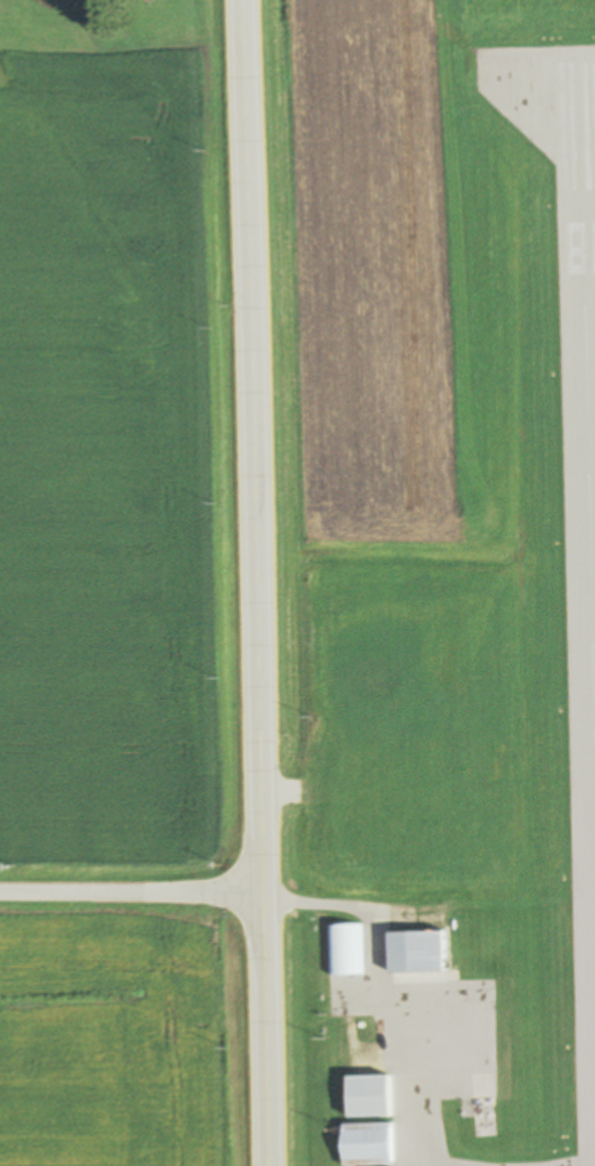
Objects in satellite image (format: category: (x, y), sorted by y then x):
airport taxiway: (501, 87)
road: (245, 152)
airport runway: (584, 455)
road: (258, 735)
building: (356, 788)
road: (130, 893)
road: (320, 897)
airport hangar: (344, 950)
building: (344, 950)
airport hangar: (415, 951)
building: (415, 951)
airport taxiway: (414, 1083)
airport hangar: (367, 1096)
building: (367, 1096)
airport hangar: (368, 1144)
building: (368, 1144)

